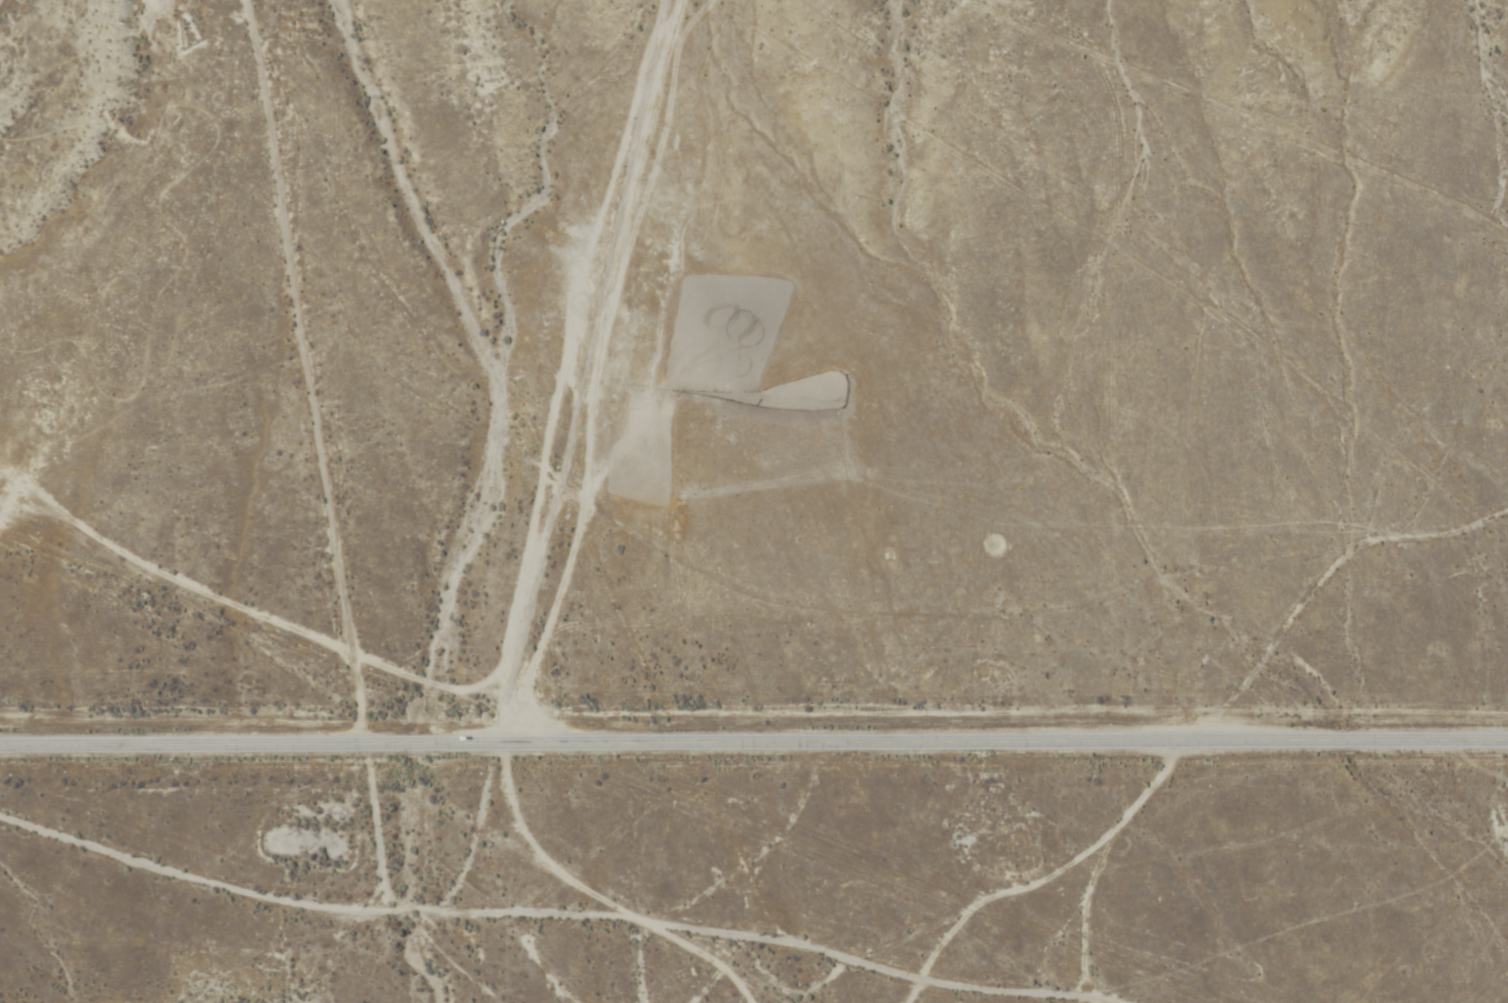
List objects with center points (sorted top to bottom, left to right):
road: (754, 747)

